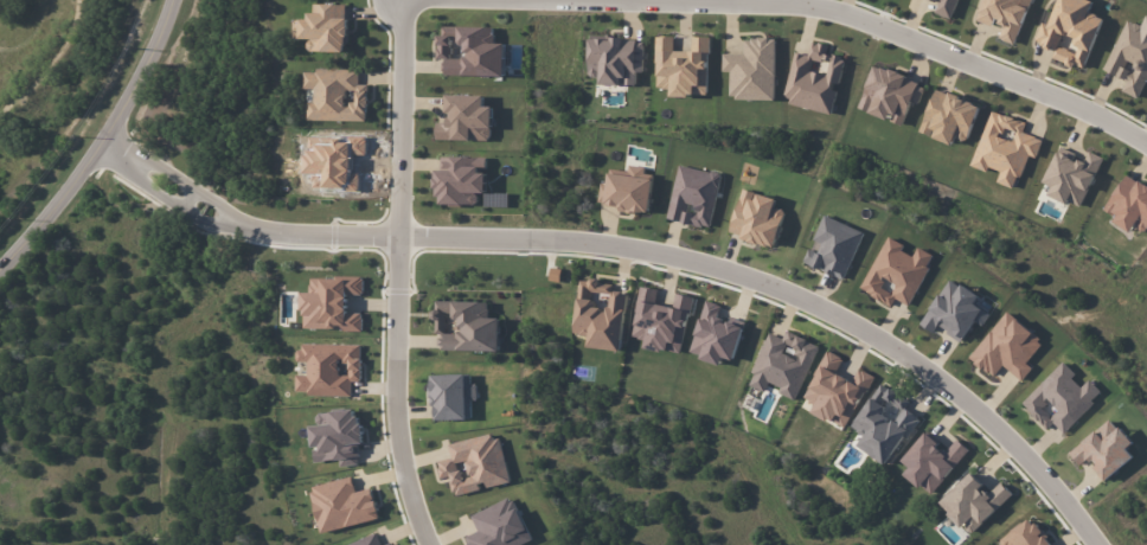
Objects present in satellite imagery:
building: (946, 7)
building: (1004, 15)
road: (864, 21)
building: (325, 27)
building: (1070, 32)
building: (470, 51)
building: (1130, 57)
building: (615, 59)
building: (683, 66)
building: (752, 70)
building: (814, 78)
building: (335, 95)
building: (890, 95)
building: (948, 117)
building: (464, 118)
road: (405, 121)
road: (107, 147)
building: (1005, 148)
building: (1071, 177)
building: (460, 180)
building: (627, 190)
building: (693, 197)
building: (1129, 205)
building: (756, 218)
building: (833, 246)
road: (642, 249)
building: (896, 272)
building: (600, 314)
building: (660, 321)
building: (466, 326)
building: (716, 335)
building: (783, 364)
building: (835, 391)
road: (404, 395)
building: (1061, 399)
building: (884, 424)
building: (1103, 449)
building: (931, 462)
building: (973, 502)
building: (1025, 536)

